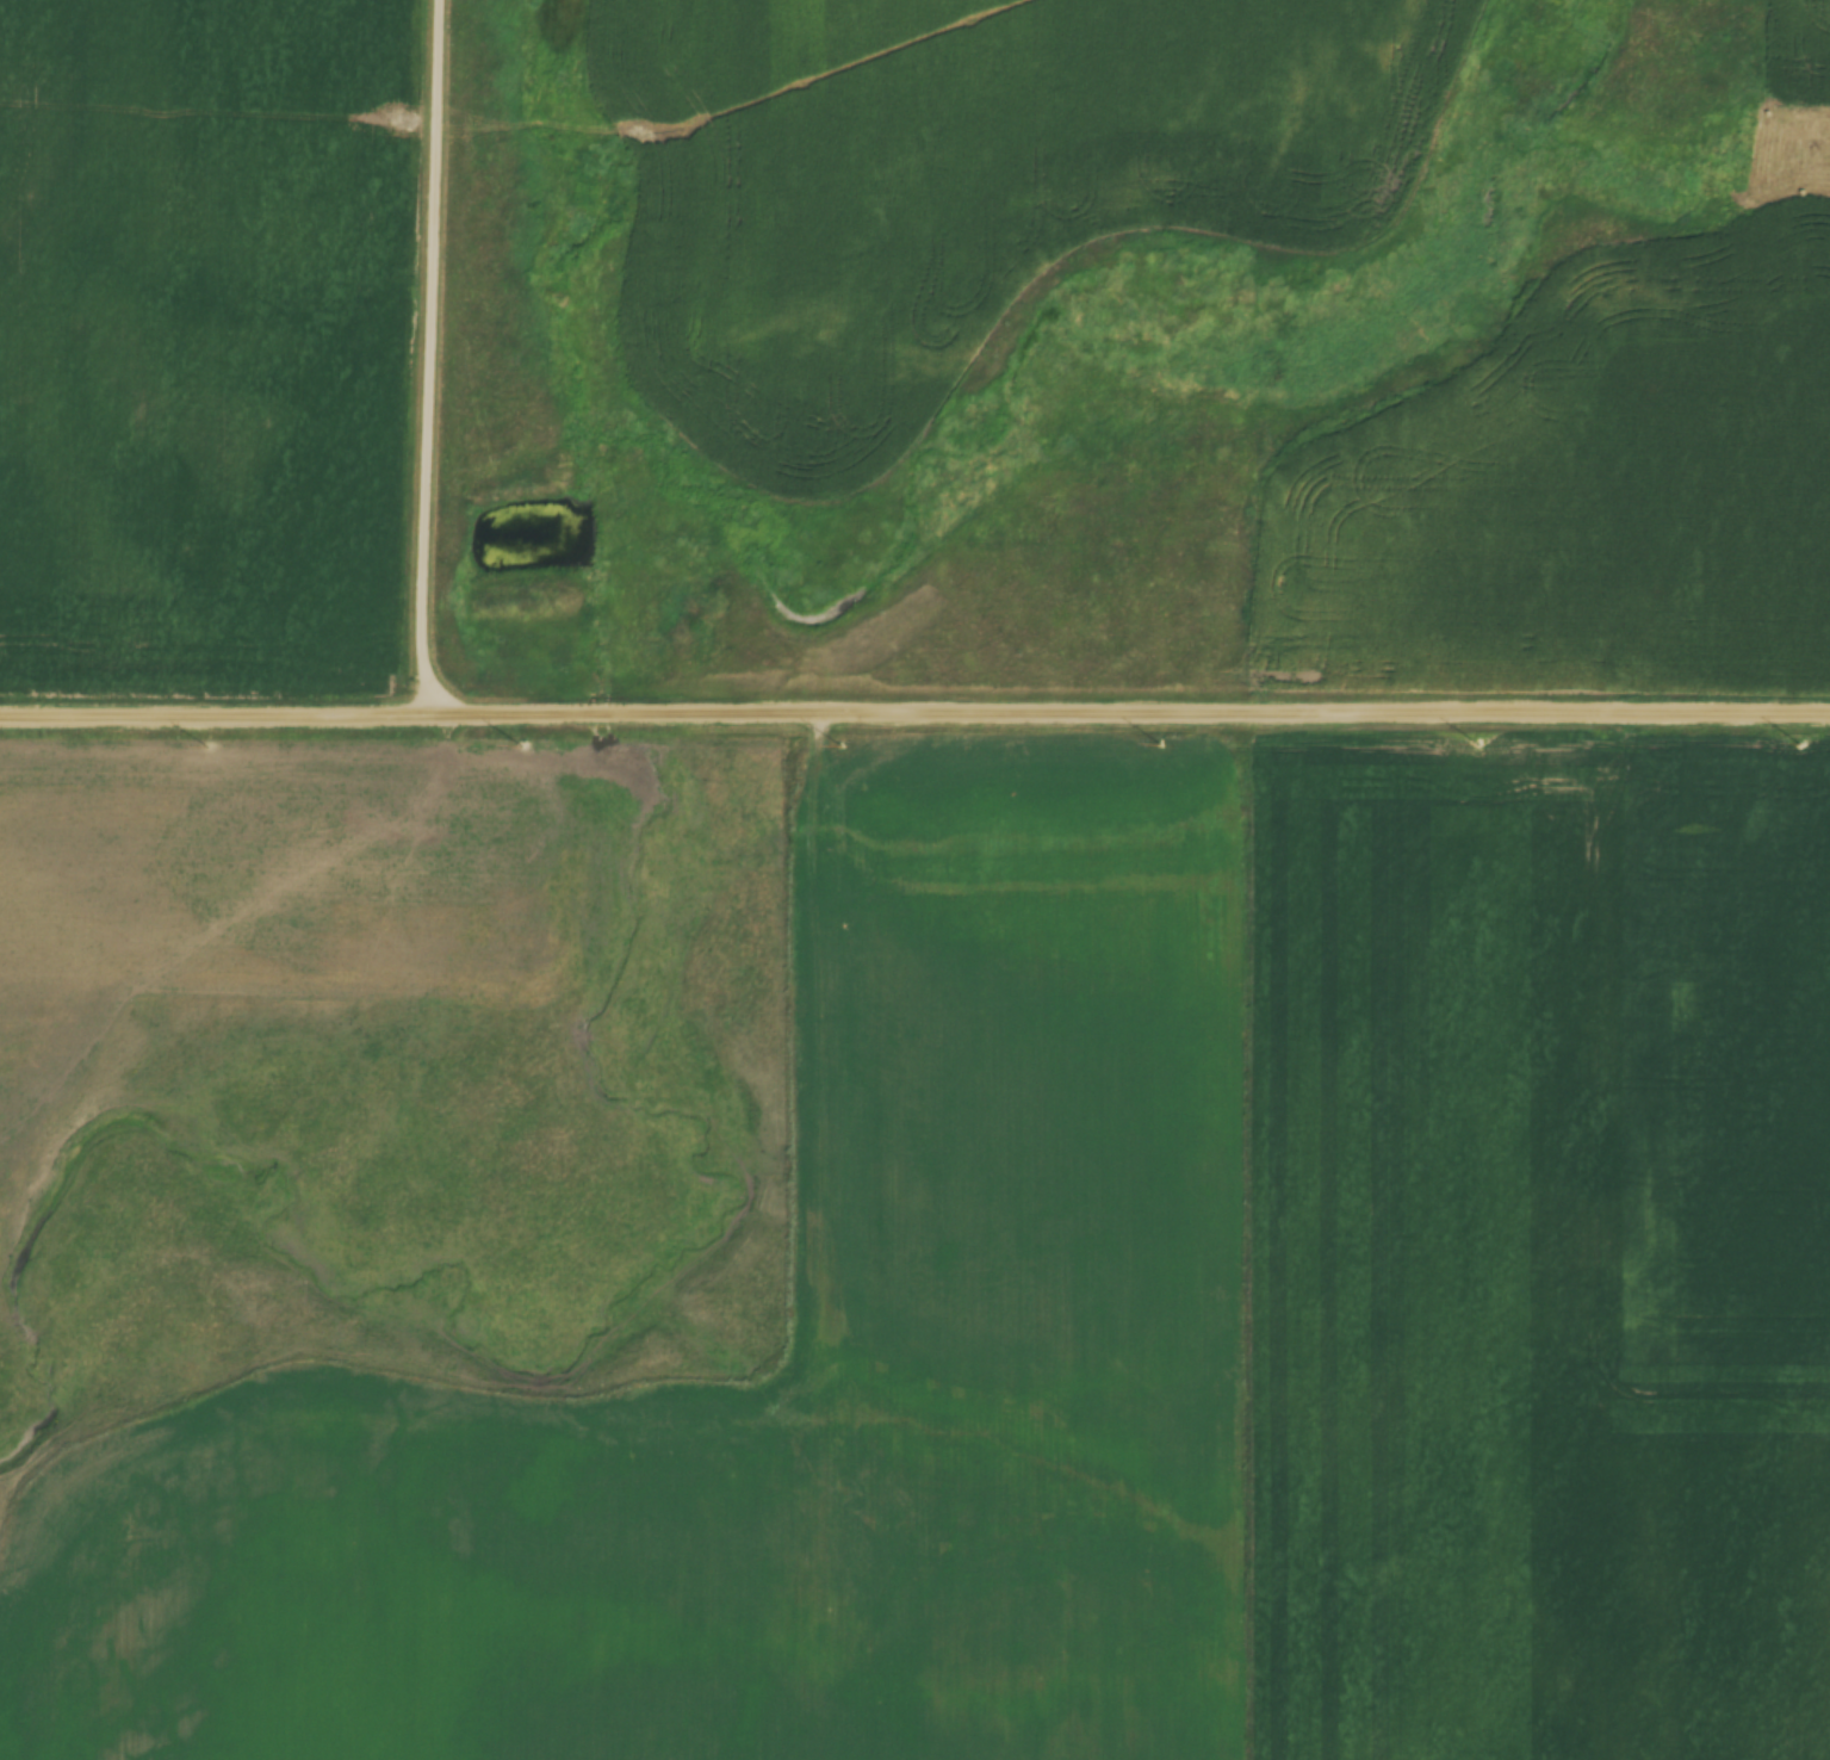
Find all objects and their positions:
road: (434, 355)
road: (914, 711)

